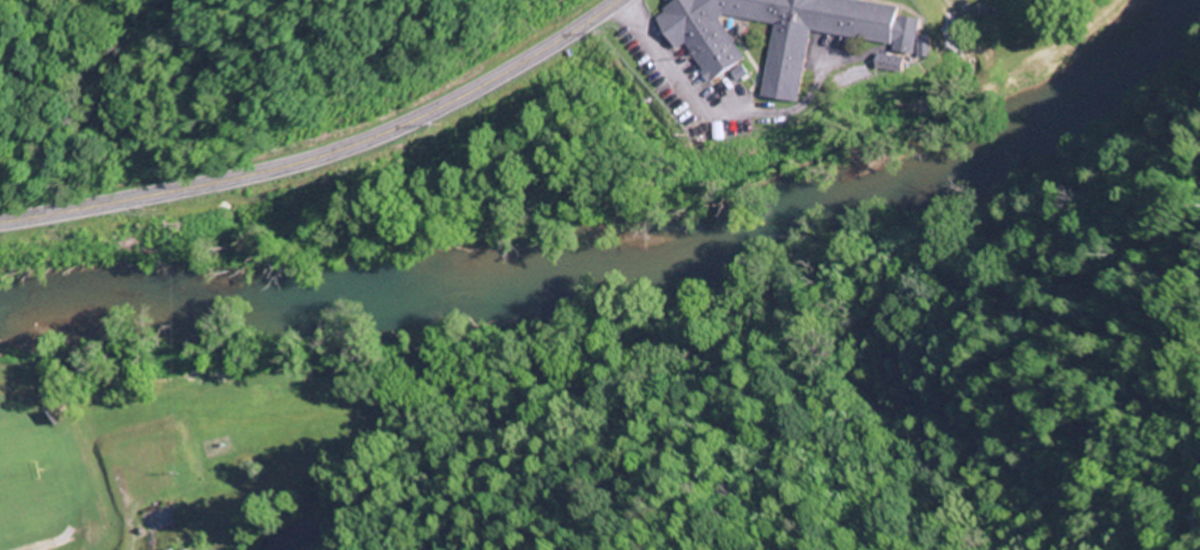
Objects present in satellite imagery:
building: (778, 33)
building: (925, 48)
road: (322, 152)
river: (623, 270)
park: (19, 482)
building: (172, 549)

